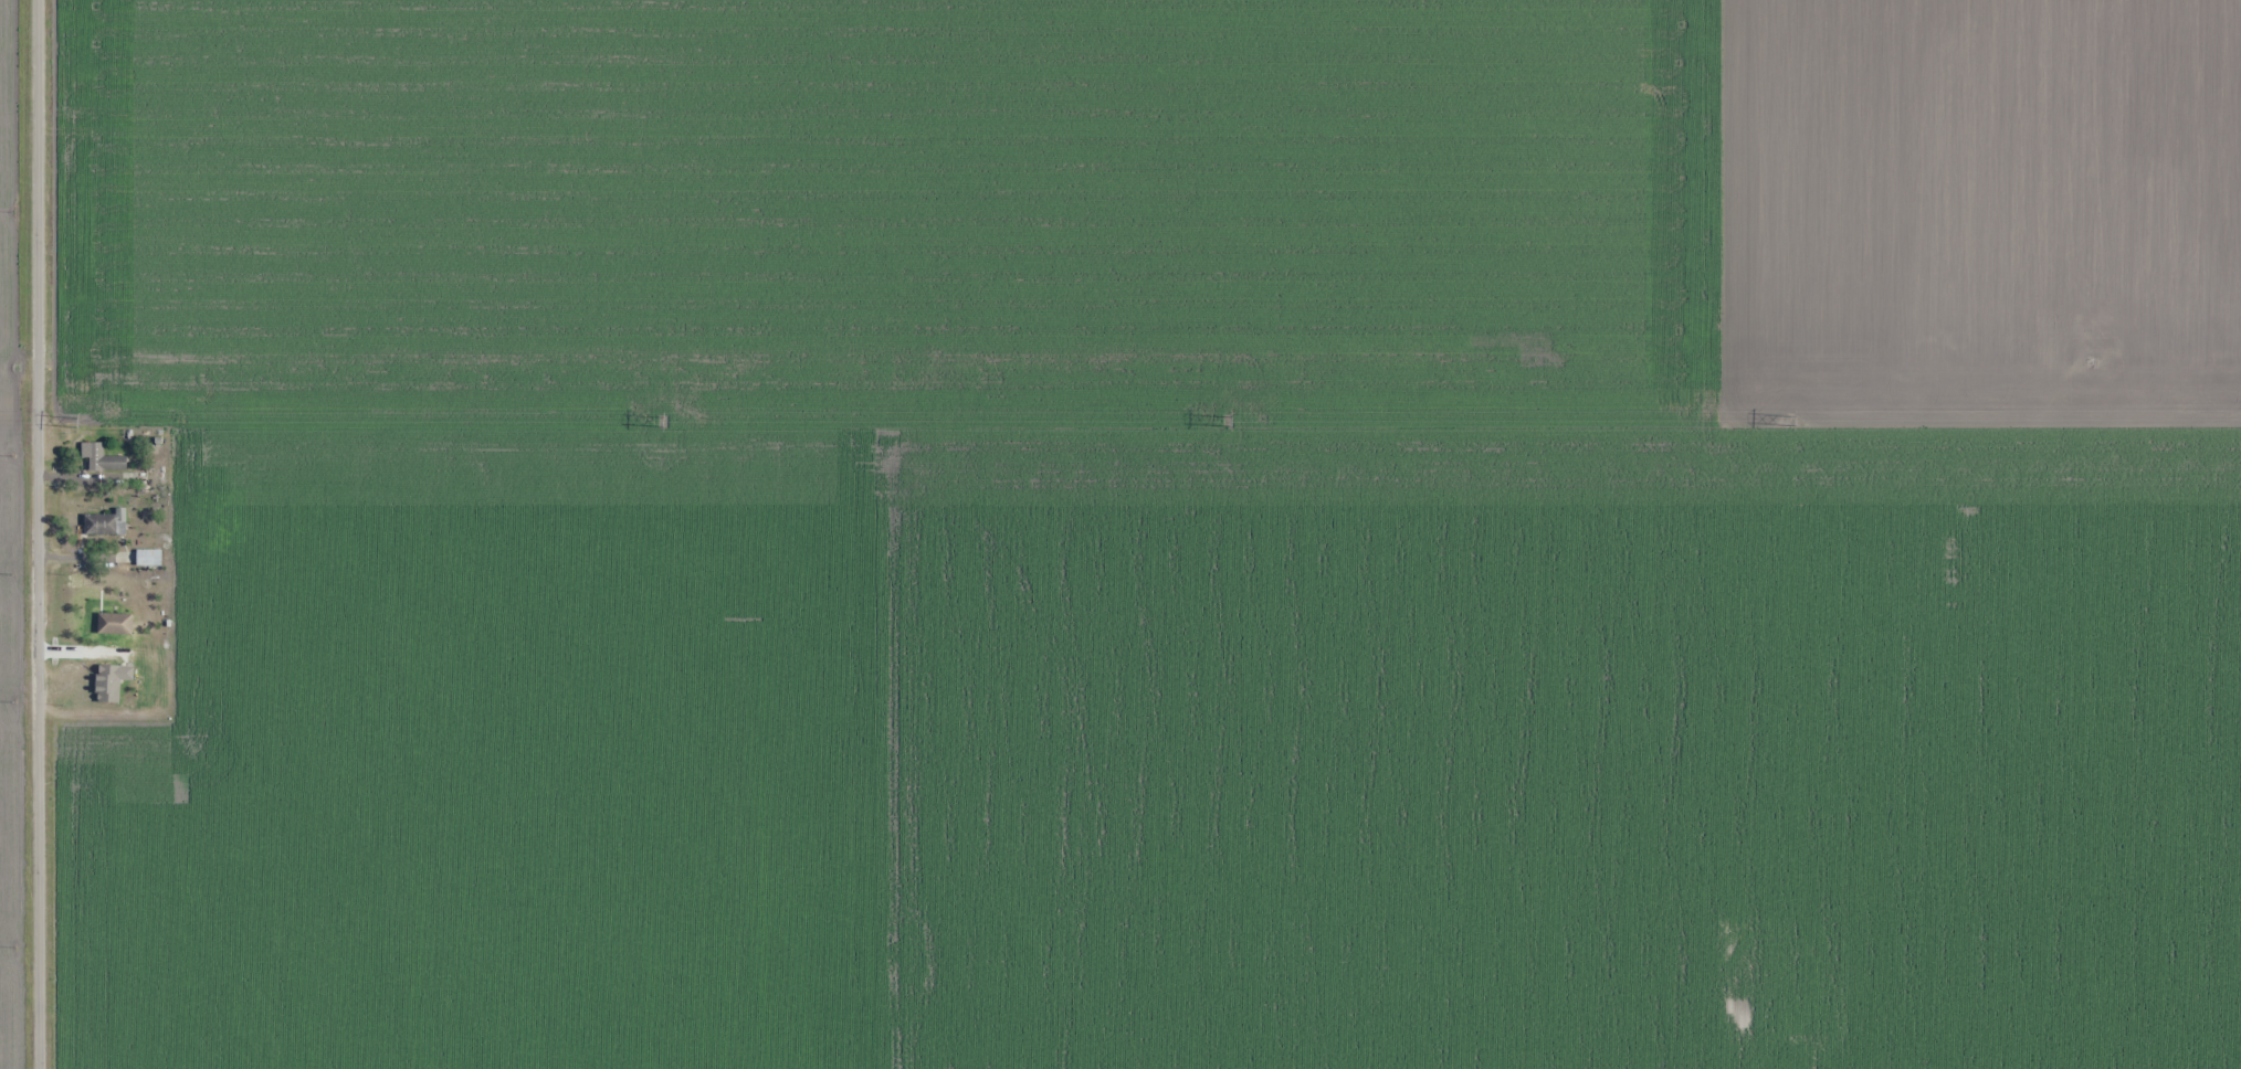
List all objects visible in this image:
power tower: (1789, 421)
power tower: (1229, 424)
power tower: (81, 425)
power tower: (663, 425)
road: (1974, 426)
building: (93, 455)
building: (102, 527)
road: (35, 534)
building: (148, 557)
building: (116, 625)

